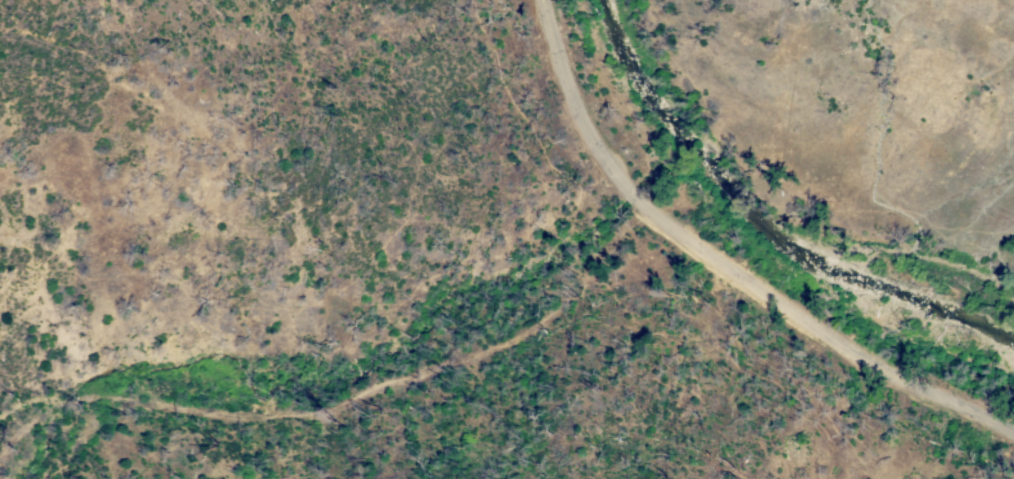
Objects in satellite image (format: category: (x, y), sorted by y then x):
road: (573, 101)
road: (638, 199)
road: (822, 333)
road: (347, 403)

